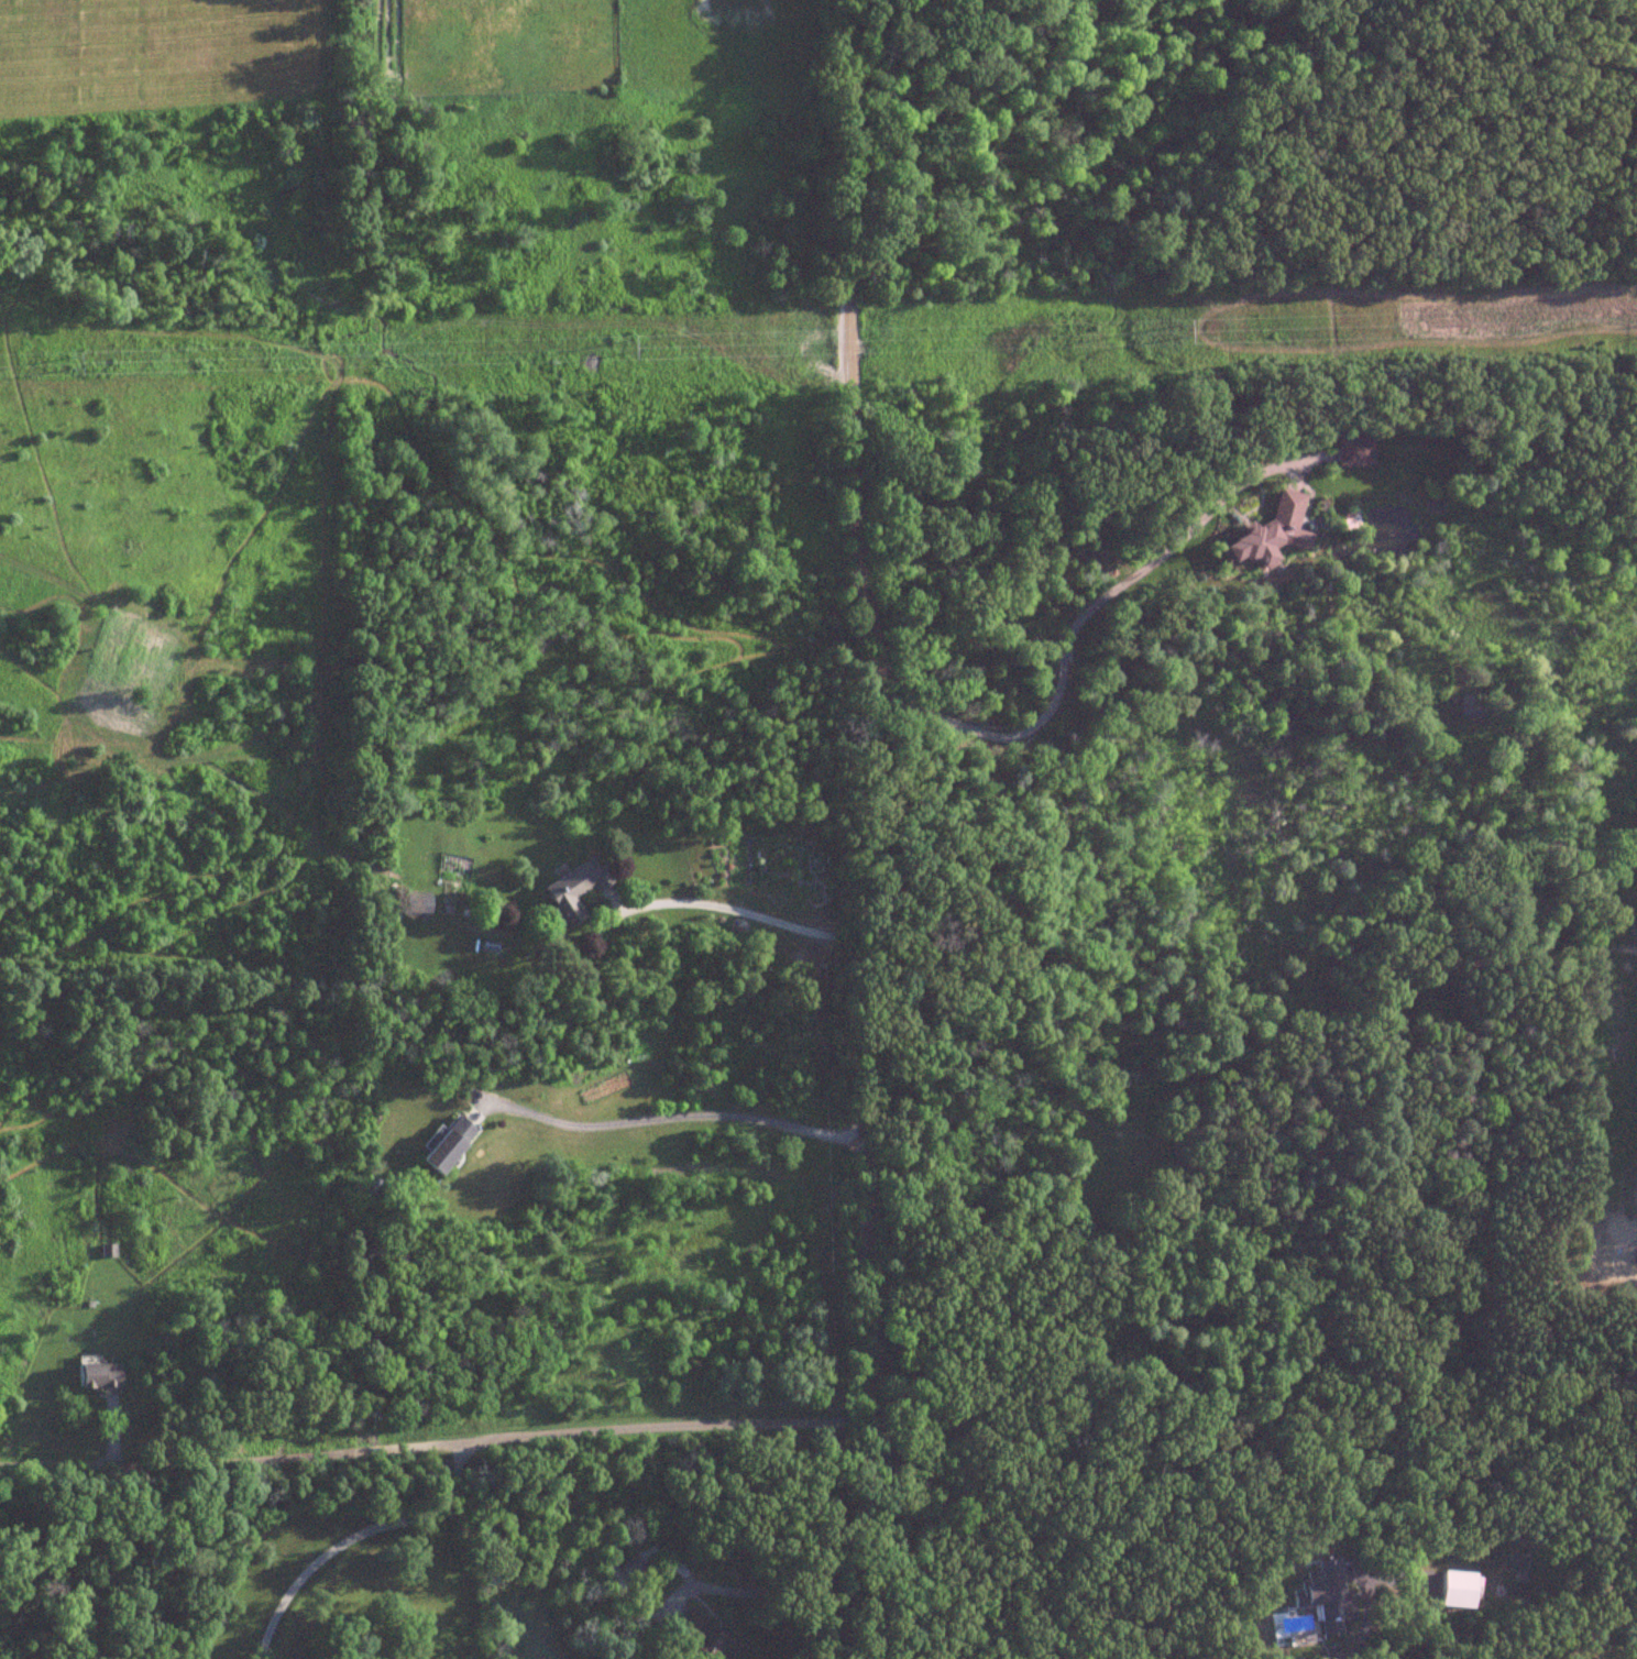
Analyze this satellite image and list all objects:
building: (1352, 451)
building: (1266, 536)
road: (1072, 627)
road: (886, 825)
building: (571, 891)
building: (411, 907)
road: (748, 912)
road: (685, 1114)
building: (443, 1145)
building: (106, 1252)
building: (95, 1378)
road: (437, 1448)
road: (353, 1537)
building: (630, 1571)
road: (992, 1579)
road: (777, 1583)
building: (1452, 1590)
building: (1321, 1600)
road: (1363, 1615)
building: (699, 1637)
building: (1054, 1658)

